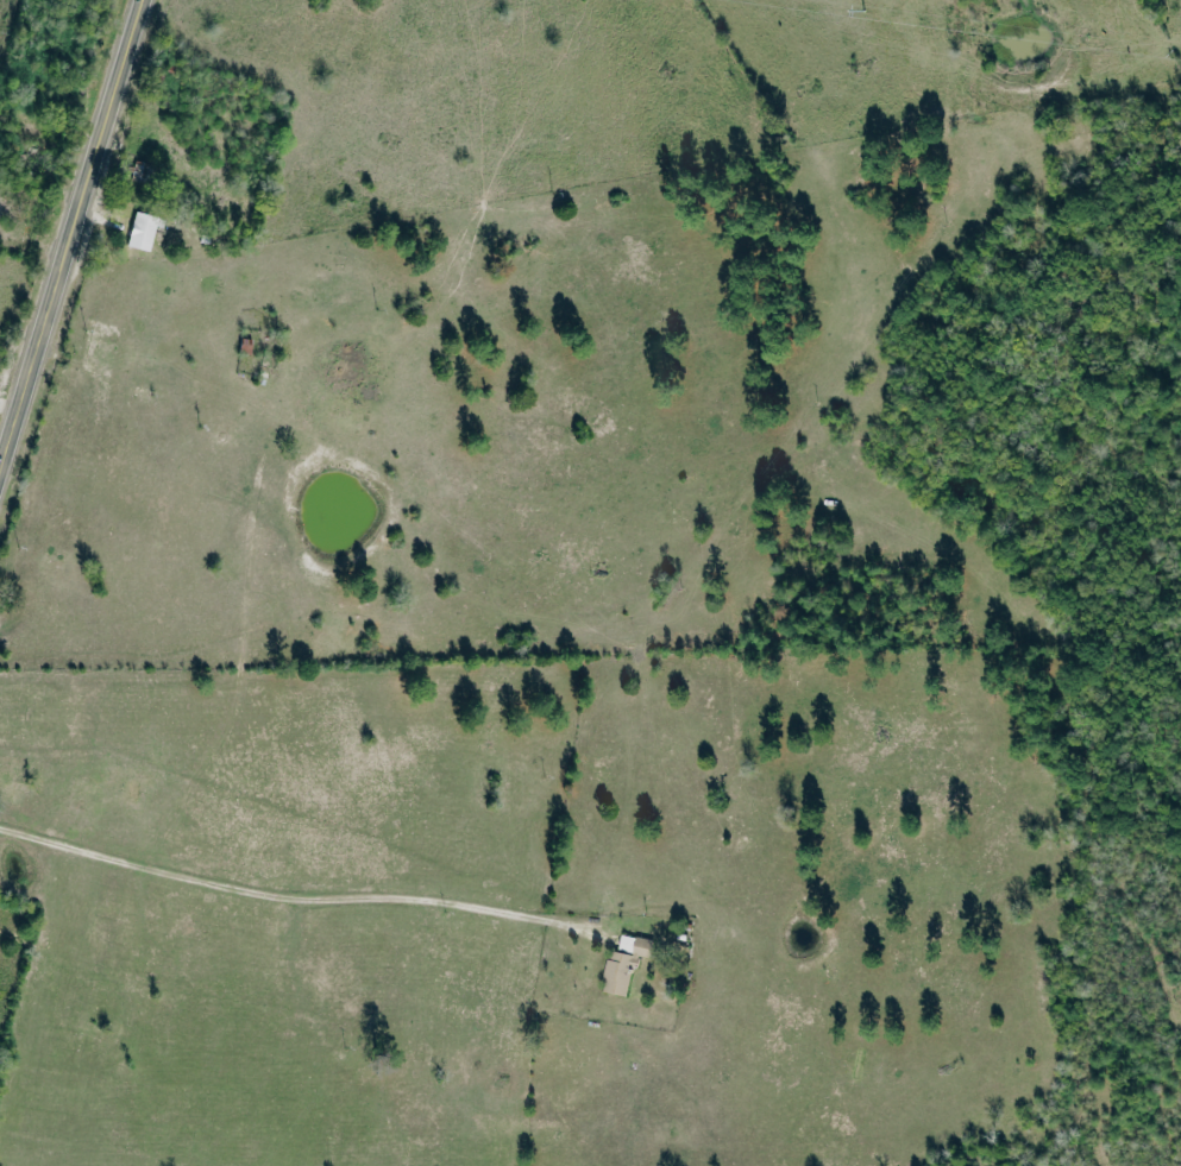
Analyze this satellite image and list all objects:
building: (145, 231)
road: (70, 235)
building: (628, 963)

